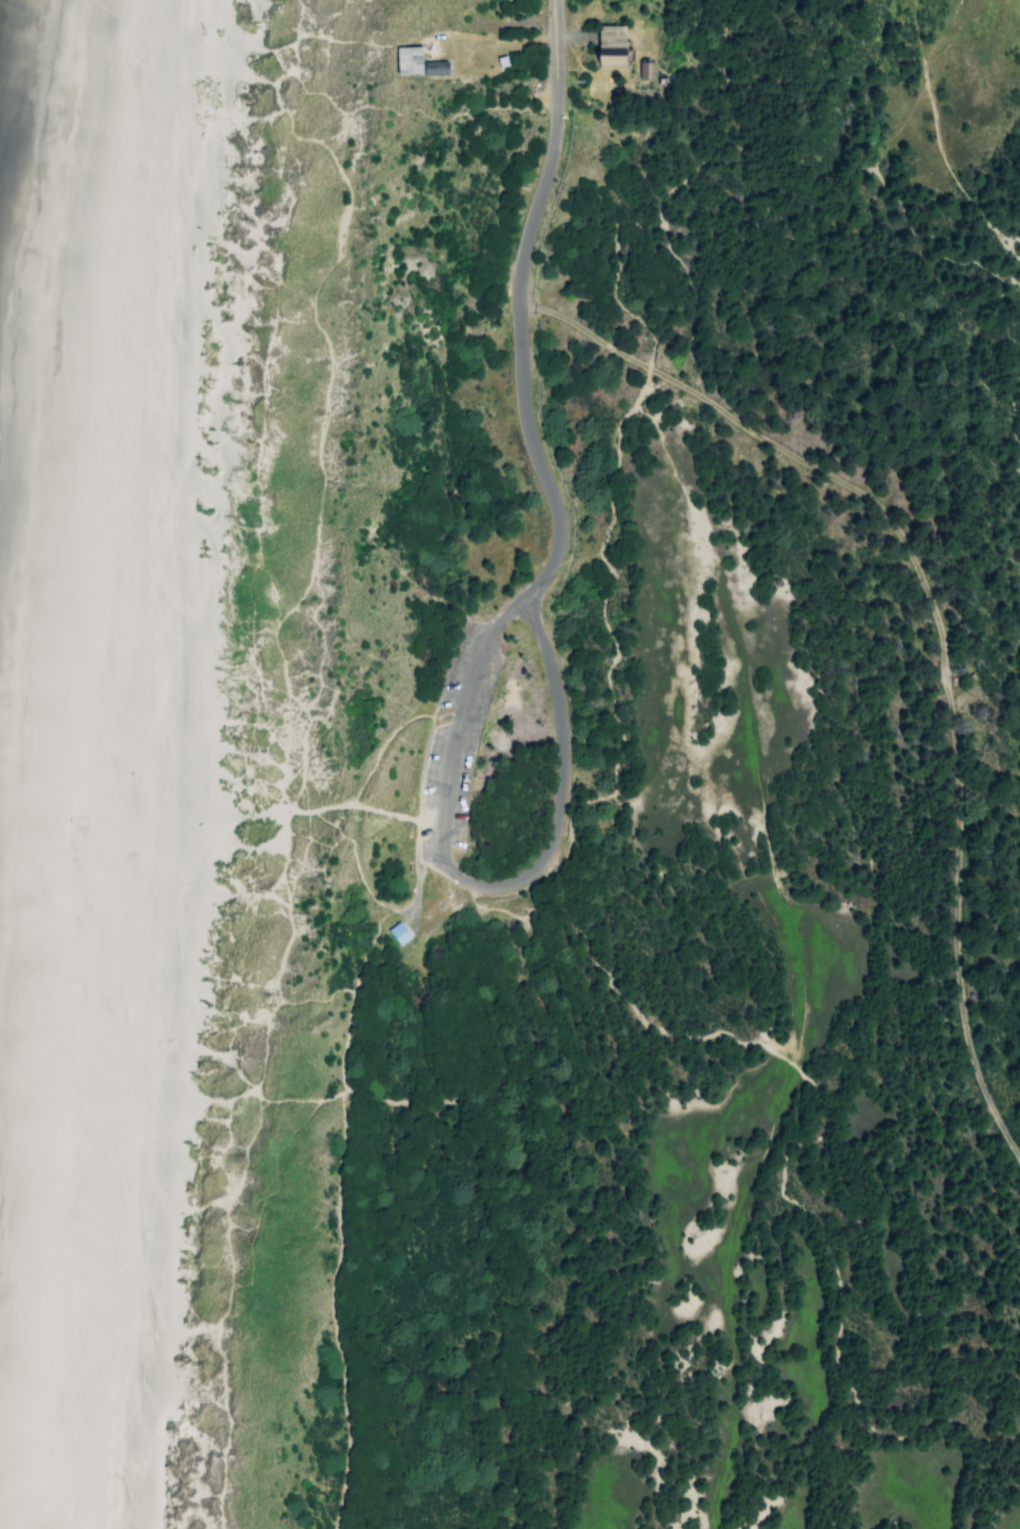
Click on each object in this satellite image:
road: (307, 31)
building: (606, 43)
building: (404, 58)
building: (431, 66)
building: (645, 68)
road: (382, 104)
road: (518, 305)
road: (385, 745)
road: (340, 803)
parking lot: (424, 826)
road: (479, 883)
building: (395, 931)
road: (275, 1097)
road: (344, 1162)

